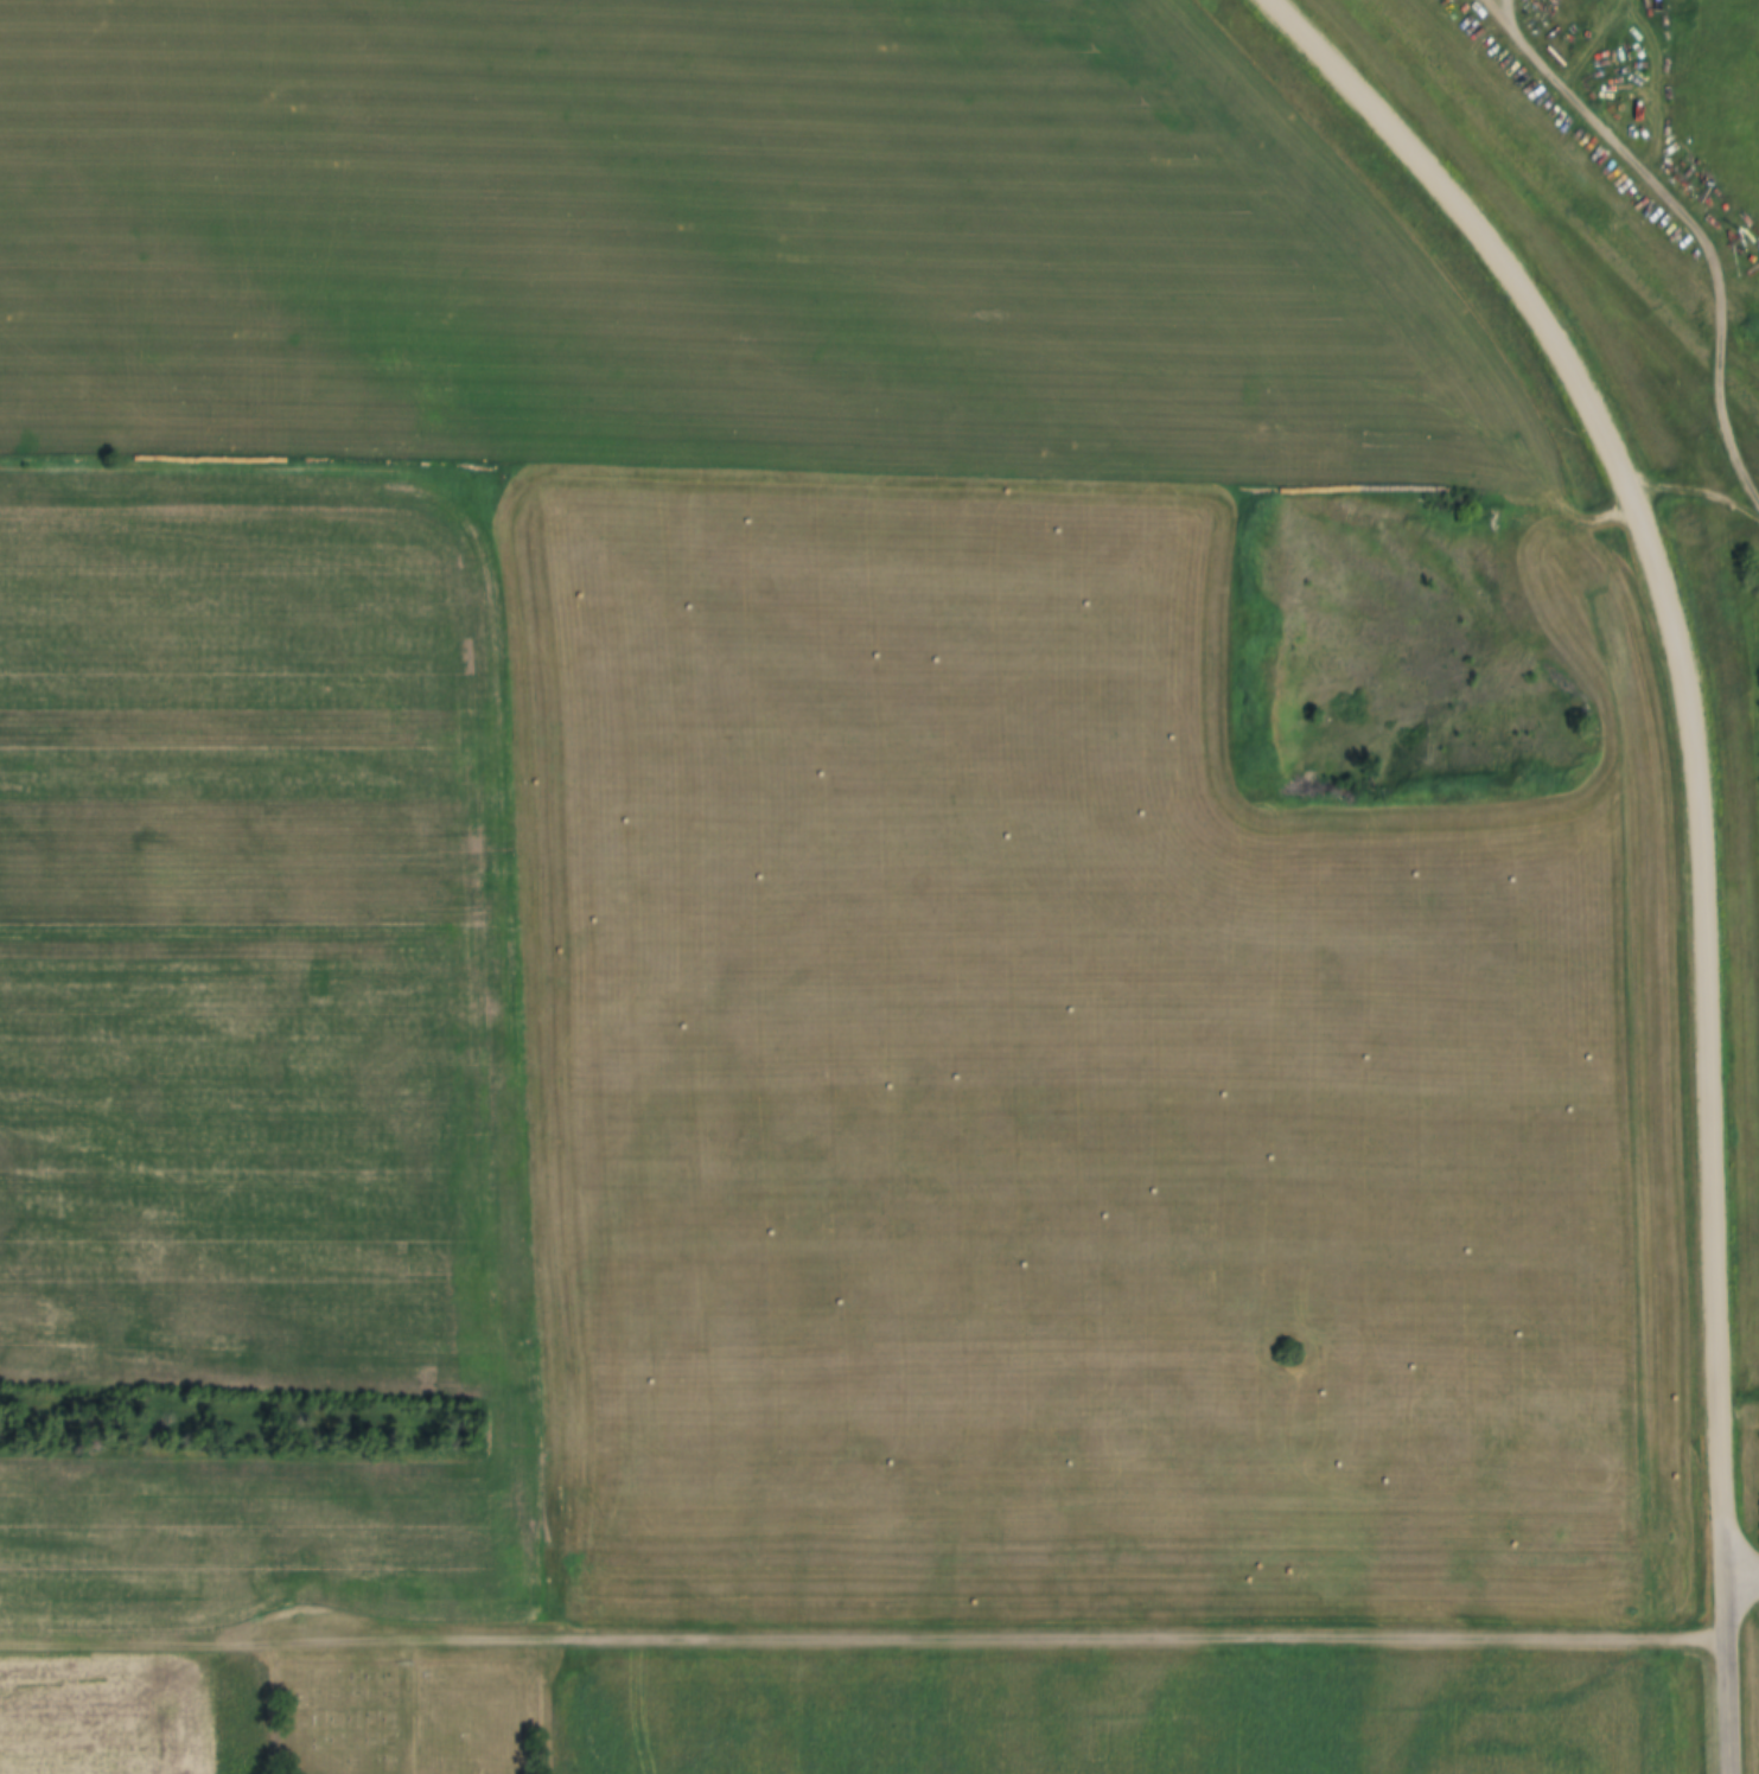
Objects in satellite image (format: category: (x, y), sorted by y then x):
road: (1494, 5)
building: (1556, 15)
silo: (1556, 15)
railway: (1567, 203)
road: (1477, 230)
road: (1699, 504)
road: (1706, 1033)
road: (1741, 1576)
road: (1069, 1640)
road: (205, 1644)
road: (1728, 1674)

